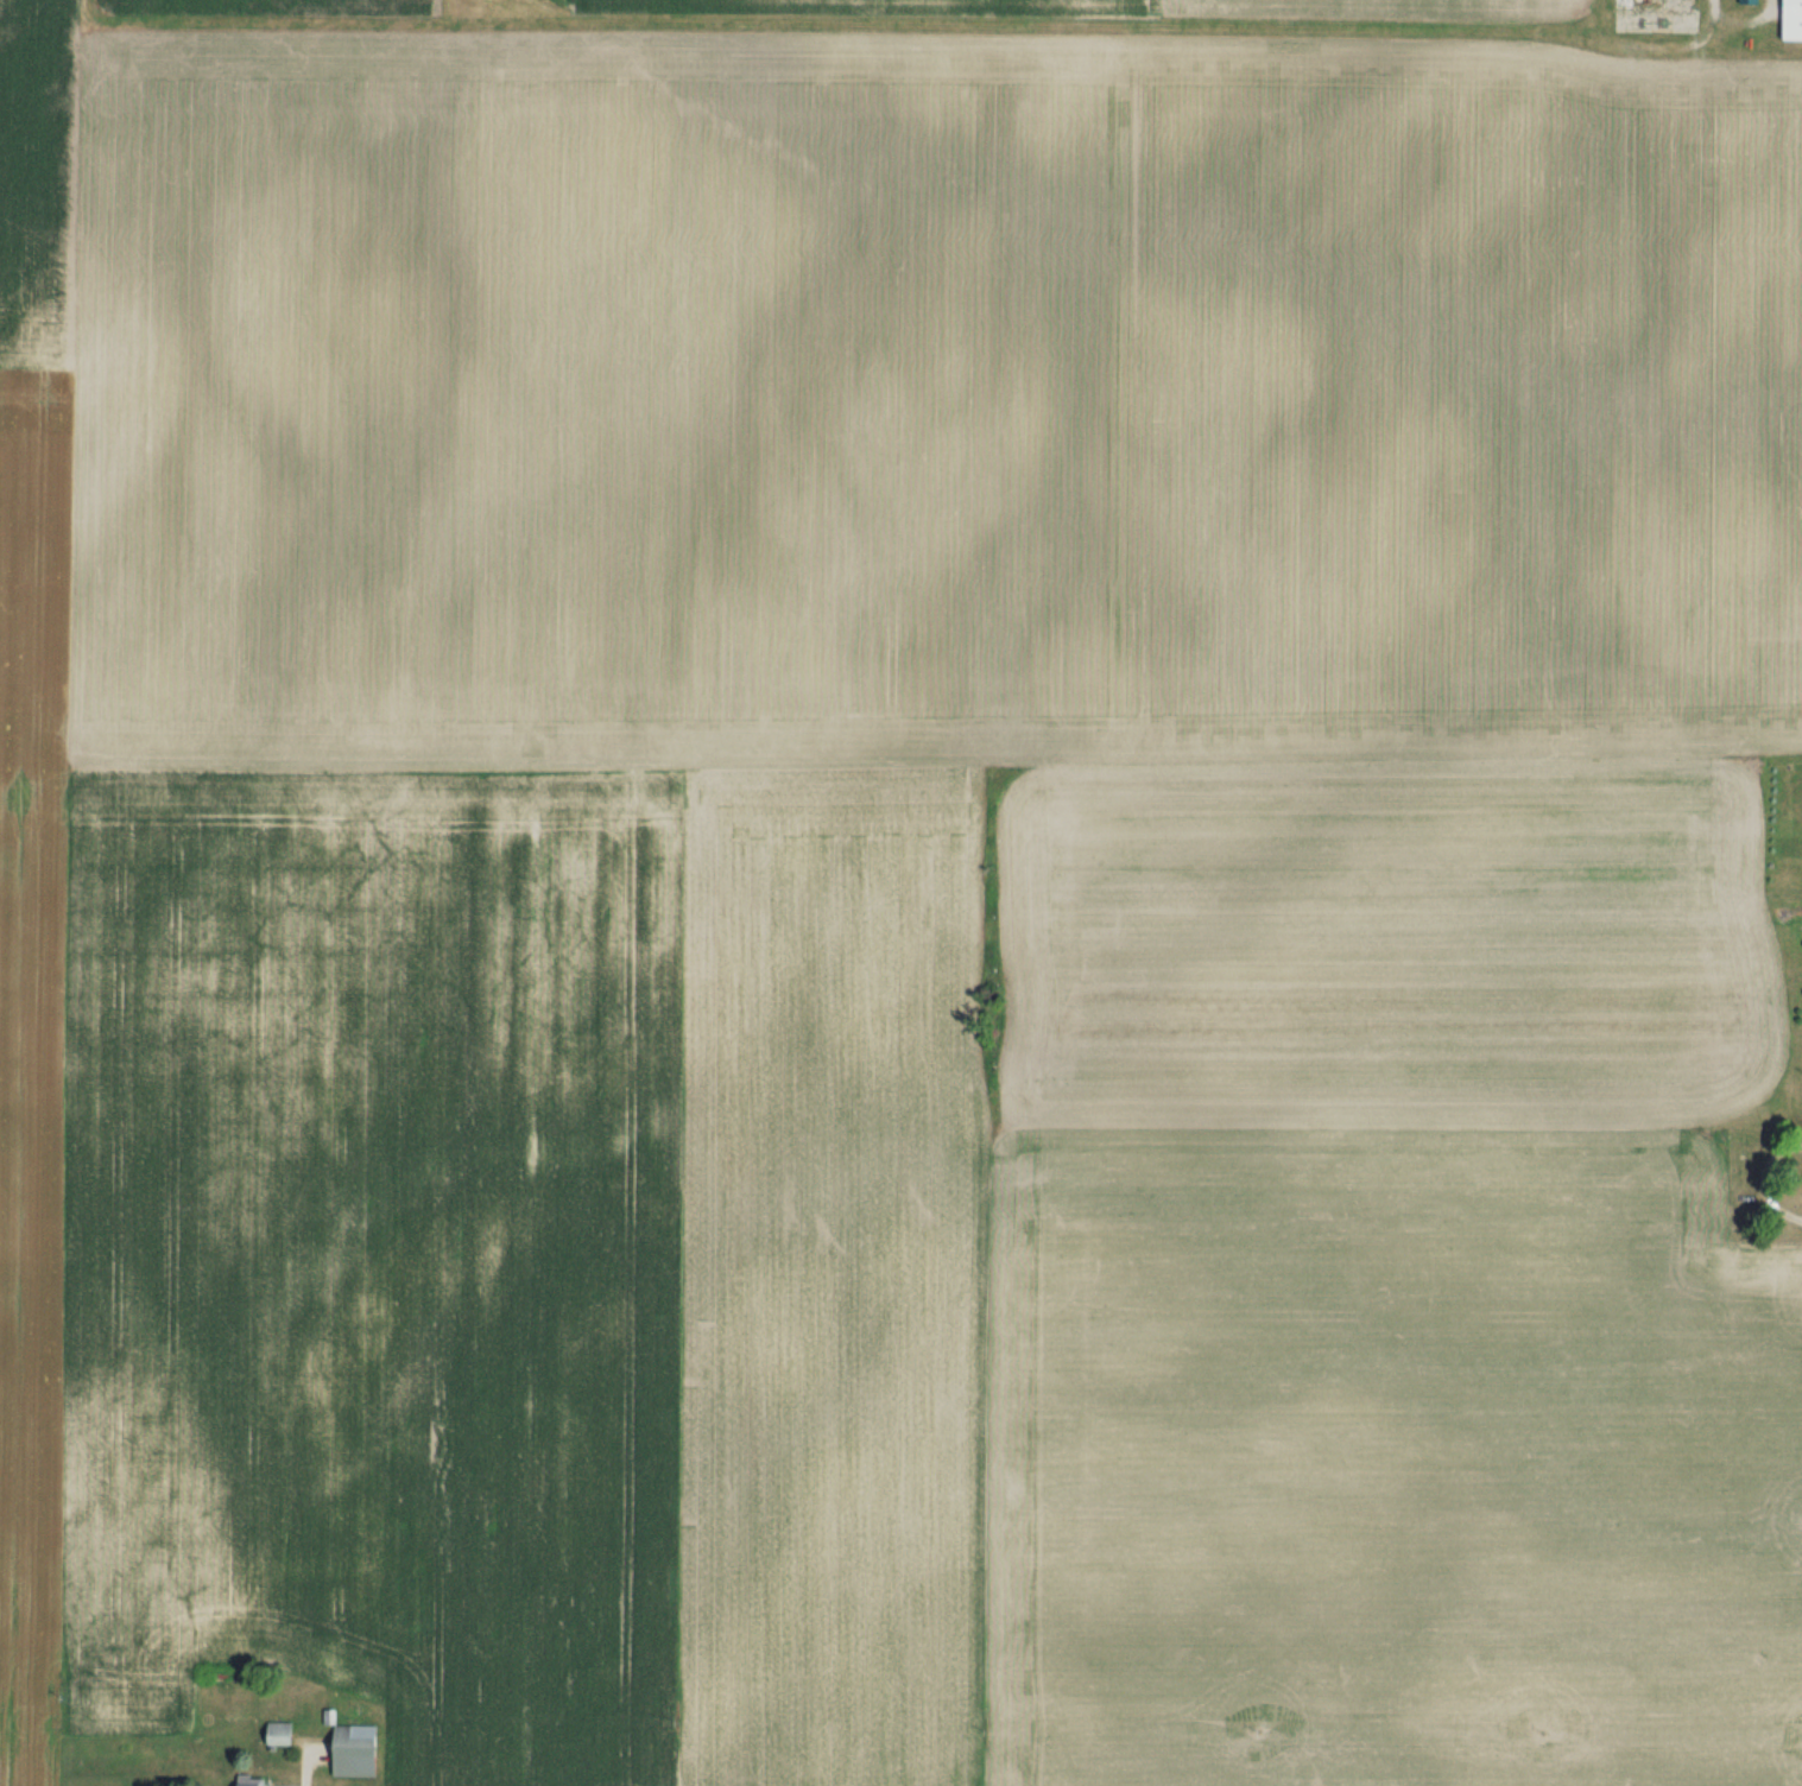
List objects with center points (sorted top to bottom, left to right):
building: (1631, 4)
building: (1796, 19)
building: (282, 1733)
building: (360, 1749)
building: (253, 1780)

